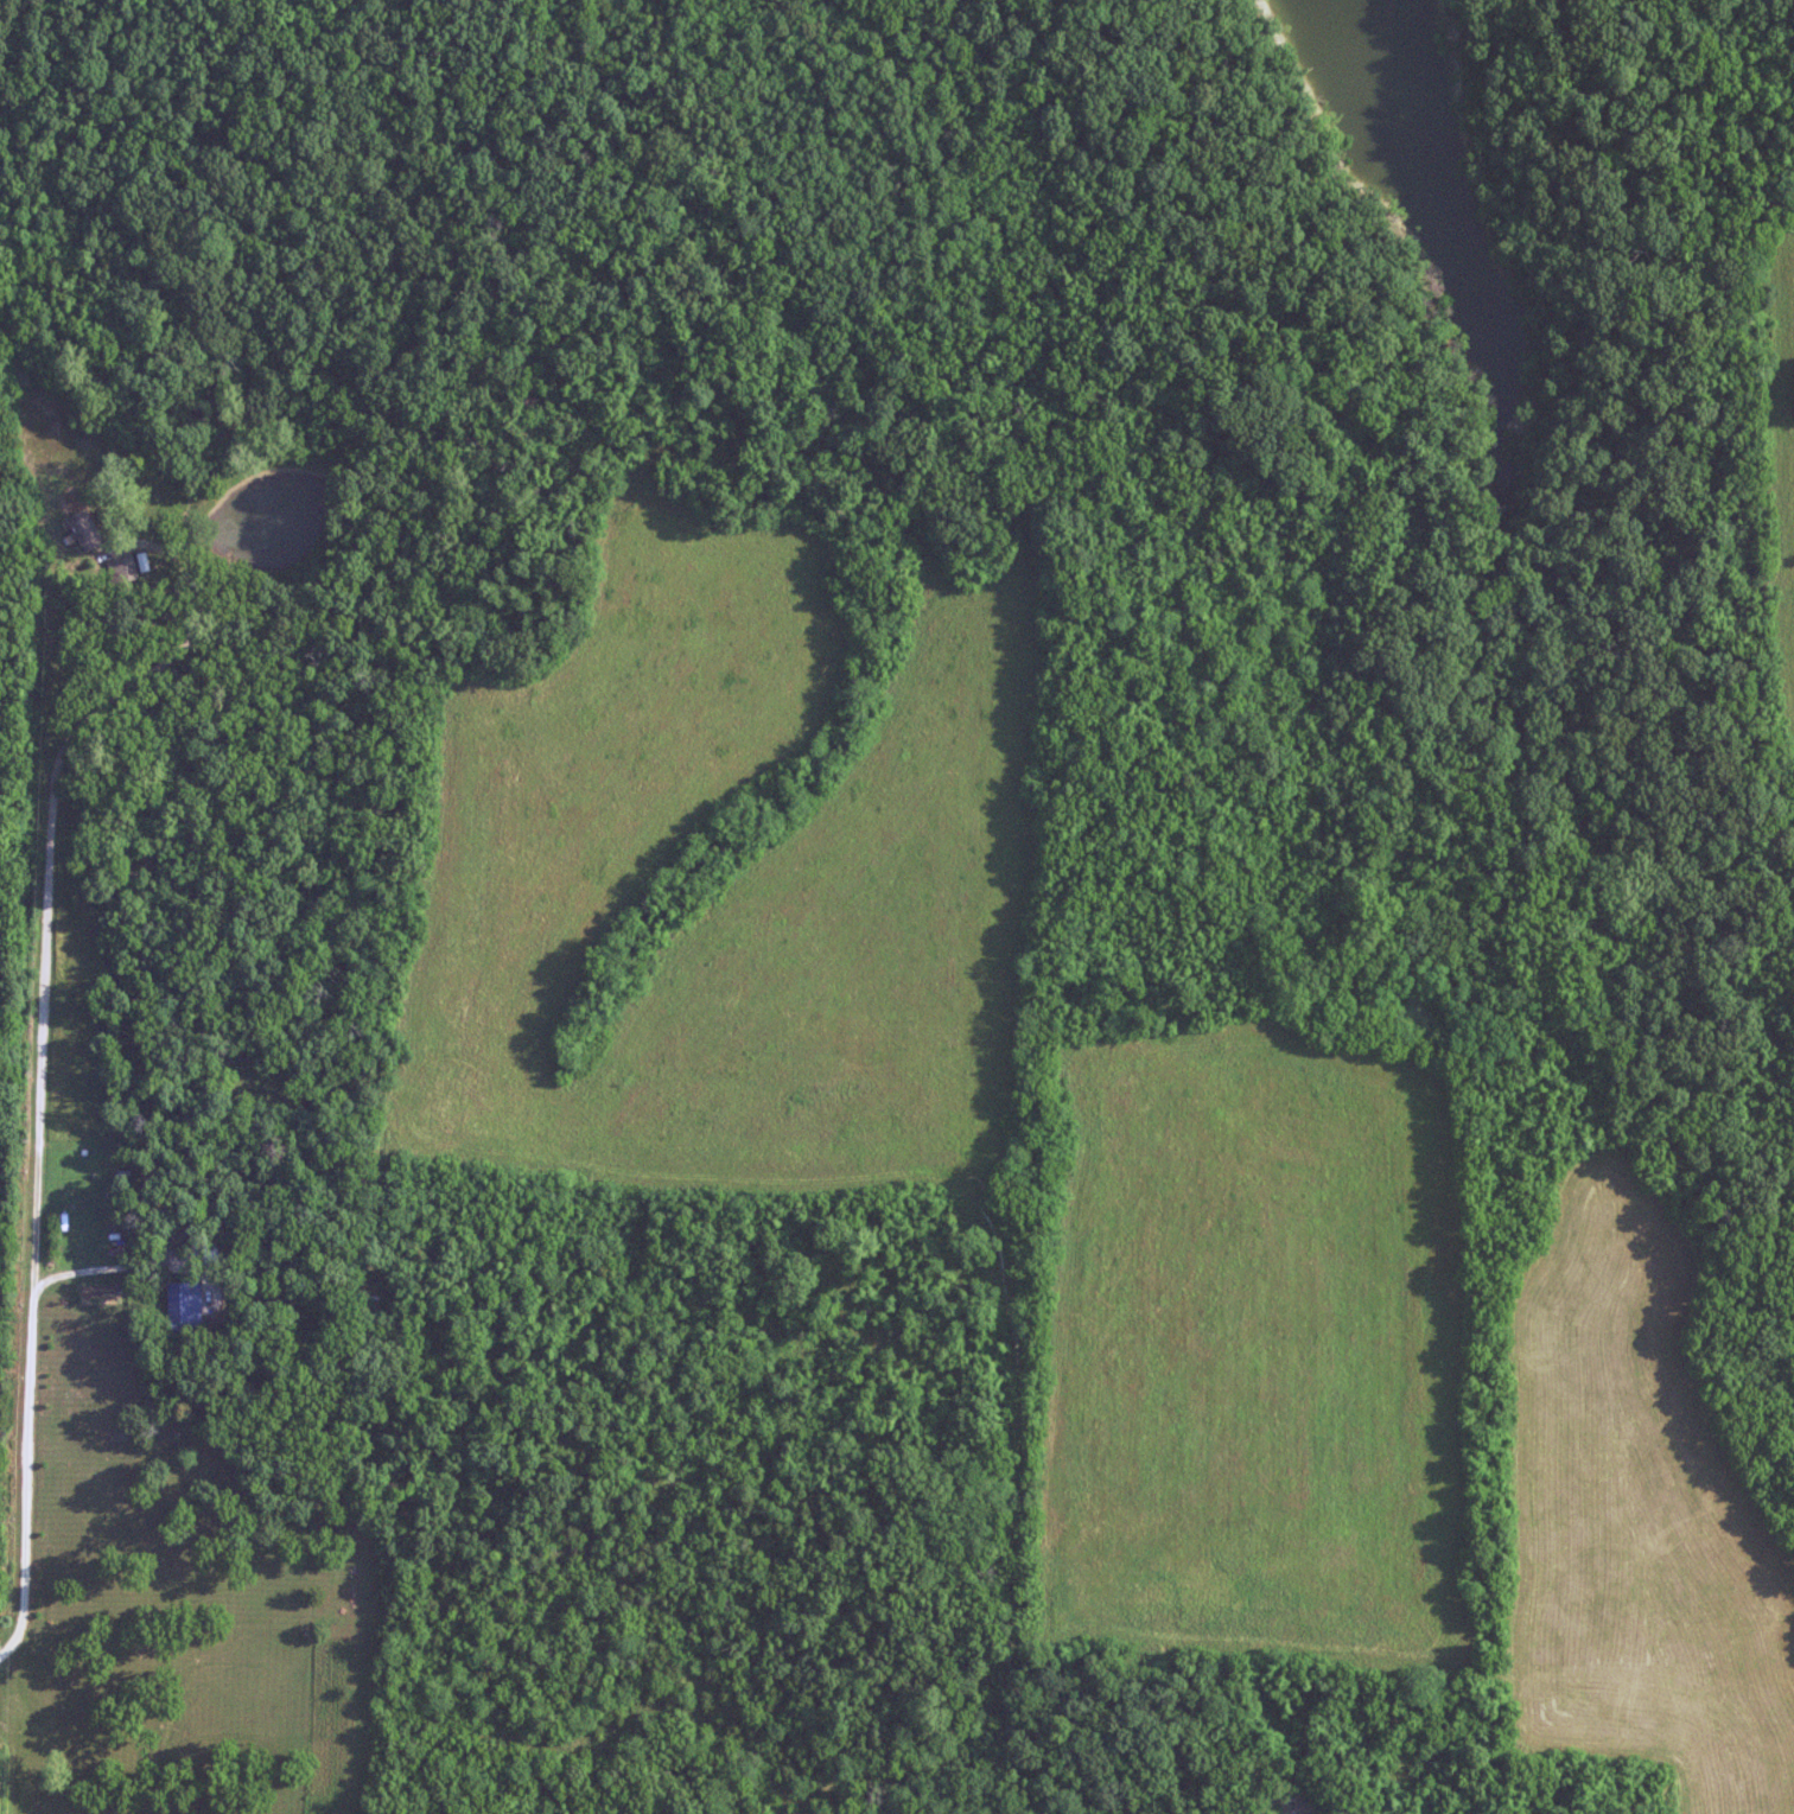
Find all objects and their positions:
building: (87, 534)
road: (43, 1071)
road: (100, 1268)
building: (186, 1305)
road: (1019, 1527)

